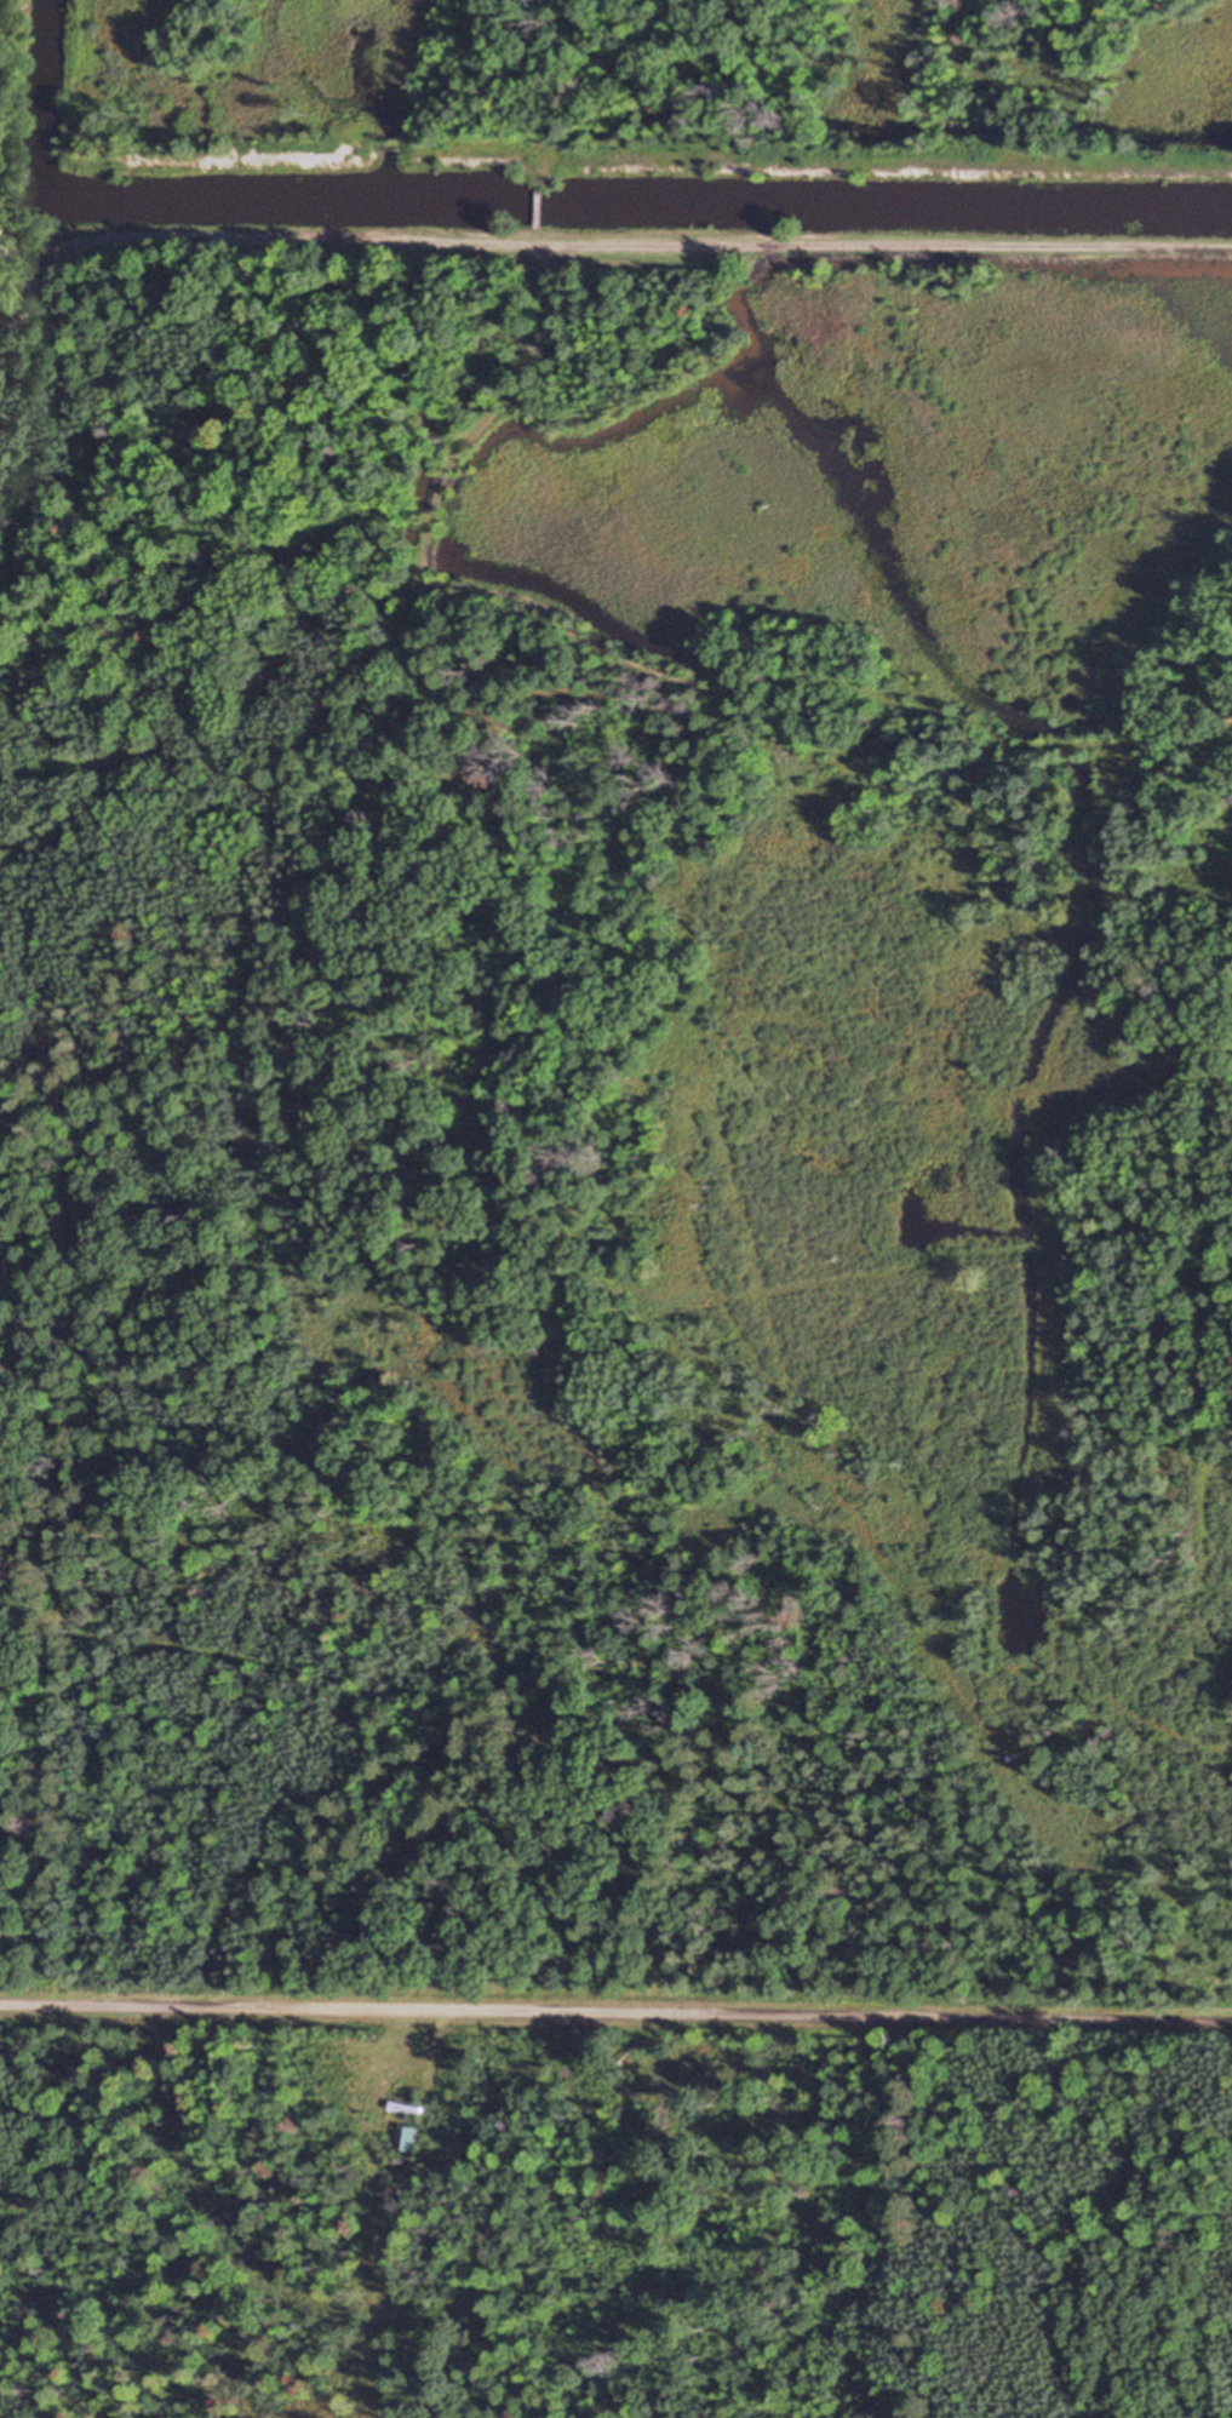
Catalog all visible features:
road: (615, 2007)

